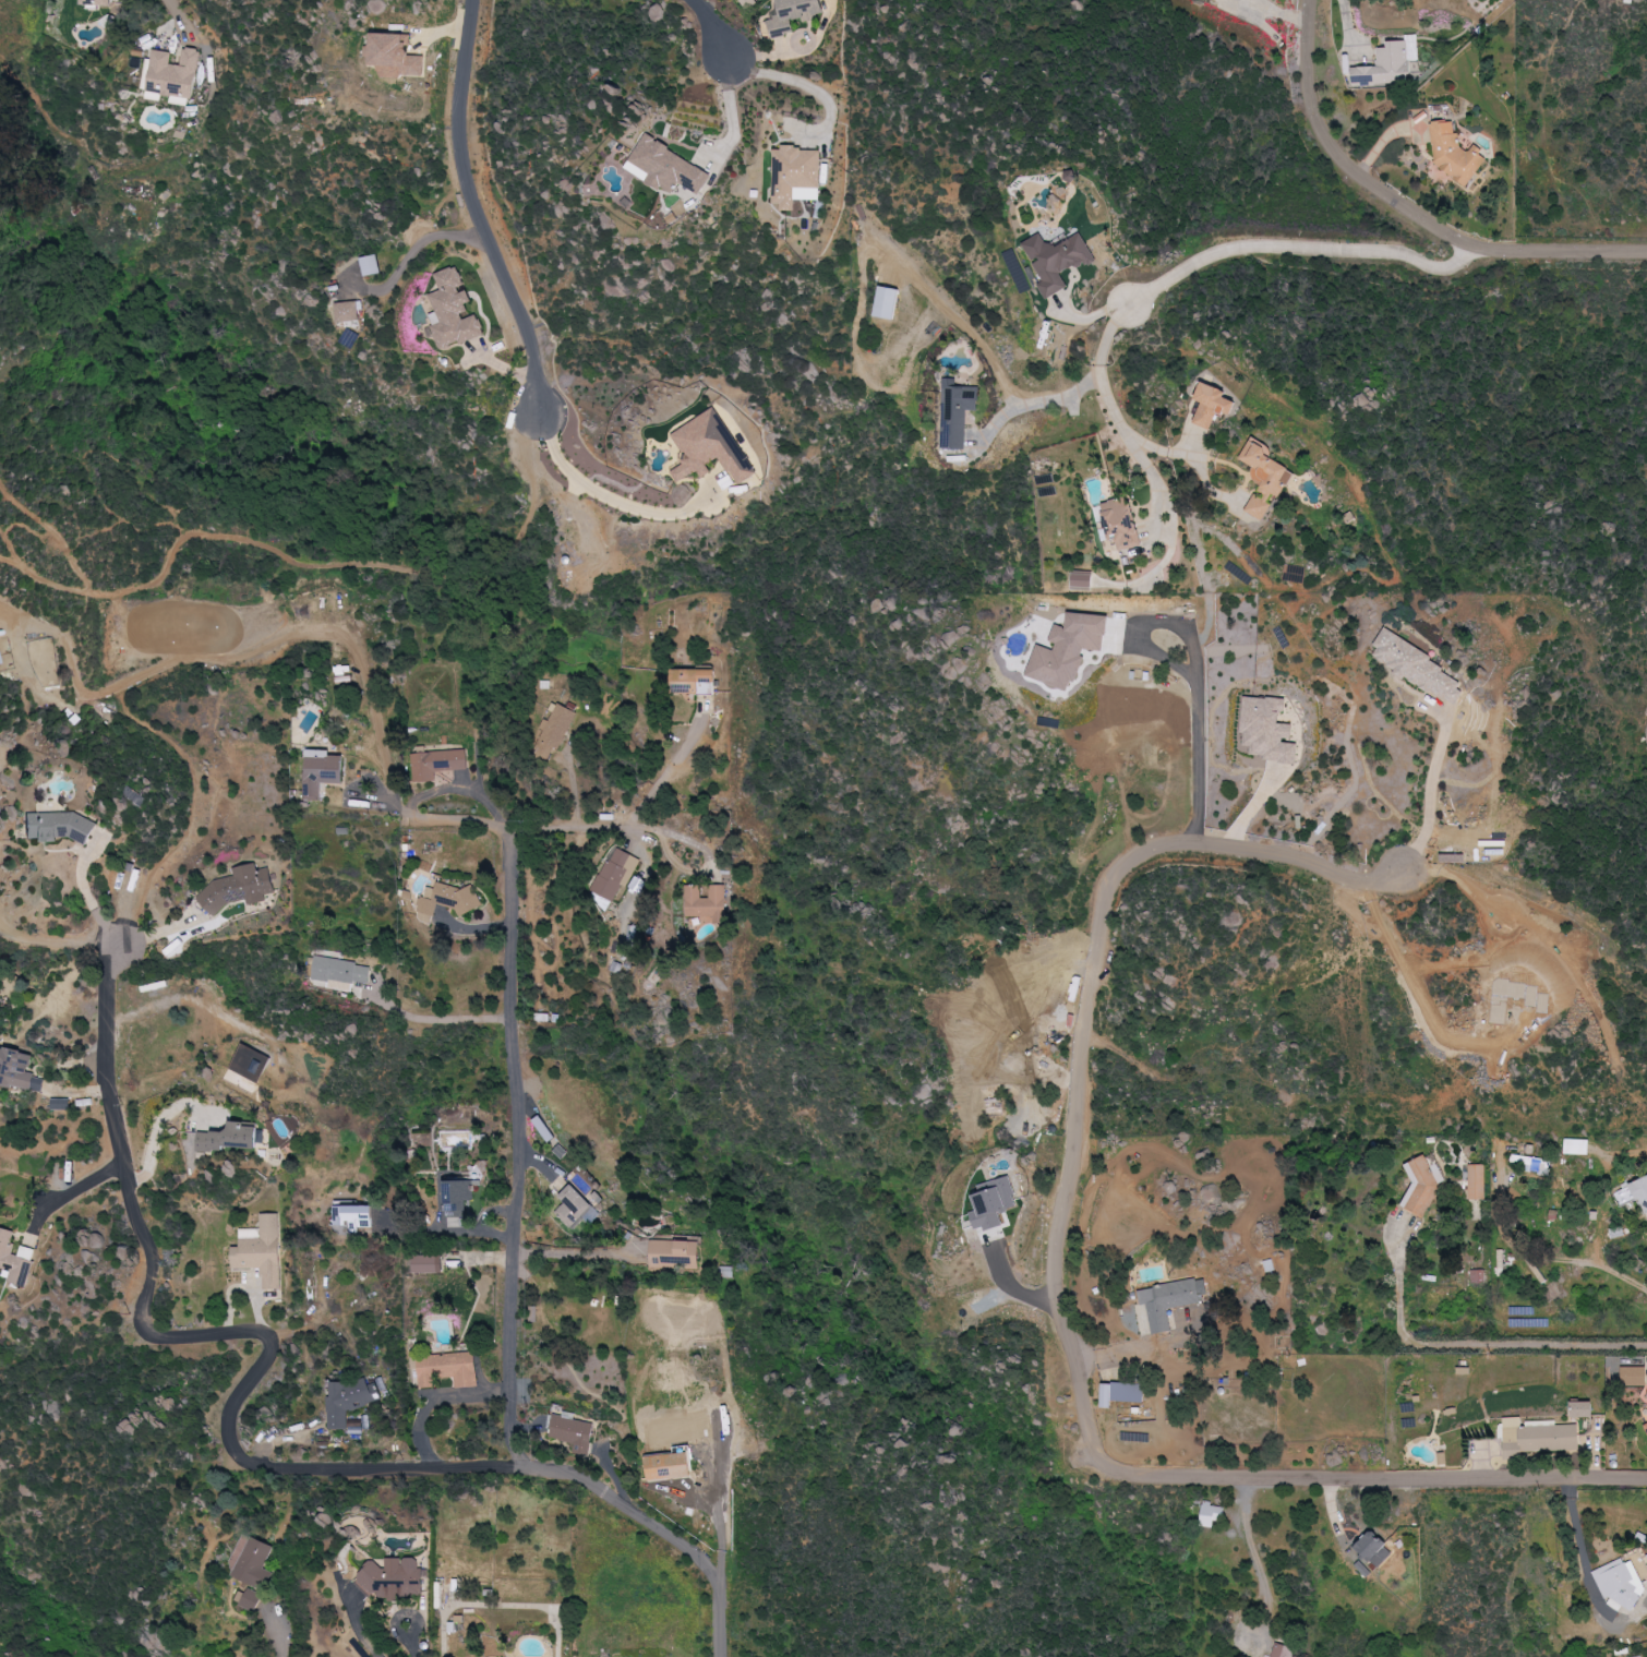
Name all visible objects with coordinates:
building: (1241, 0)
building: (98, 2)
building: (794, 15)
road: (713, 26)
building: (395, 56)
building: (1391, 63)
building: (170, 74)
road: (793, 79)
road: (733, 110)
building: (1455, 153)
building: (666, 167)
building: (795, 176)
road: (1408, 207)
road: (473, 212)
road: (1302, 250)
building: (1057, 260)
building: (370, 265)
building: (887, 302)
building: (348, 311)
building: (454, 311)
road: (1039, 401)
road: (1113, 405)
building: (1214, 405)
building: (958, 412)
building: (711, 448)
building: (1265, 477)
road: (597, 490)
building: (1122, 525)
building: (1083, 579)
building: (1069, 649)
building: (1420, 667)
building: (695, 682)
building: (1269, 730)
building: (554, 732)
road: (1200, 735)
building: (437, 764)
building: (322, 772)
road: (1430, 802)
road: (432, 817)
road: (600, 826)
building: (60, 828)
building: (616, 873)
building: (239, 888)
road: (88, 896)
building: (447, 901)
building: (708, 904)
building: (341, 973)
road: (1416, 992)
road: (442, 1020)
building: (19, 1069)
building: (61, 1104)
road: (158, 1133)
building: (232, 1137)
building: (1578, 1145)
building: (1531, 1163)
building: (1477, 1181)
building: (1424, 1186)
road: (75, 1187)
building: (1633, 1193)
building: (573, 1205)
building: (354, 1216)
road: (486, 1220)
road: (432, 1230)
road: (576, 1249)
building: (261, 1250)
building: (674, 1252)
building: (14, 1258)
building: (429, 1263)
building: (1478, 1276)
road: (1055, 1289)
building: (1170, 1300)
building: (1522, 1310)
road: (513, 1329)
road: (221, 1330)
road: (1466, 1345)
road: (1137, 1347)
building: (449, 1369)
building: (1634, 1376)
building: (1122, 1393)
building: (350, 1400)
road: (438, 1401)
building: (1584, 1409)
building: (1646, 1425)
building: (574, 1432)
building: (1538, 1438)
building: (670, 1466)
building: (1212, 1514)
road: (721, 1522)
road: (1247, 1535)
building: (1376, 1549)
building: (254, 1563)
building: (394, 1578)
building: (1620, 1583)
building: (251, 1599)
road: (413, 1638)
road: (285, 1644)
building: (1283, 1650)

